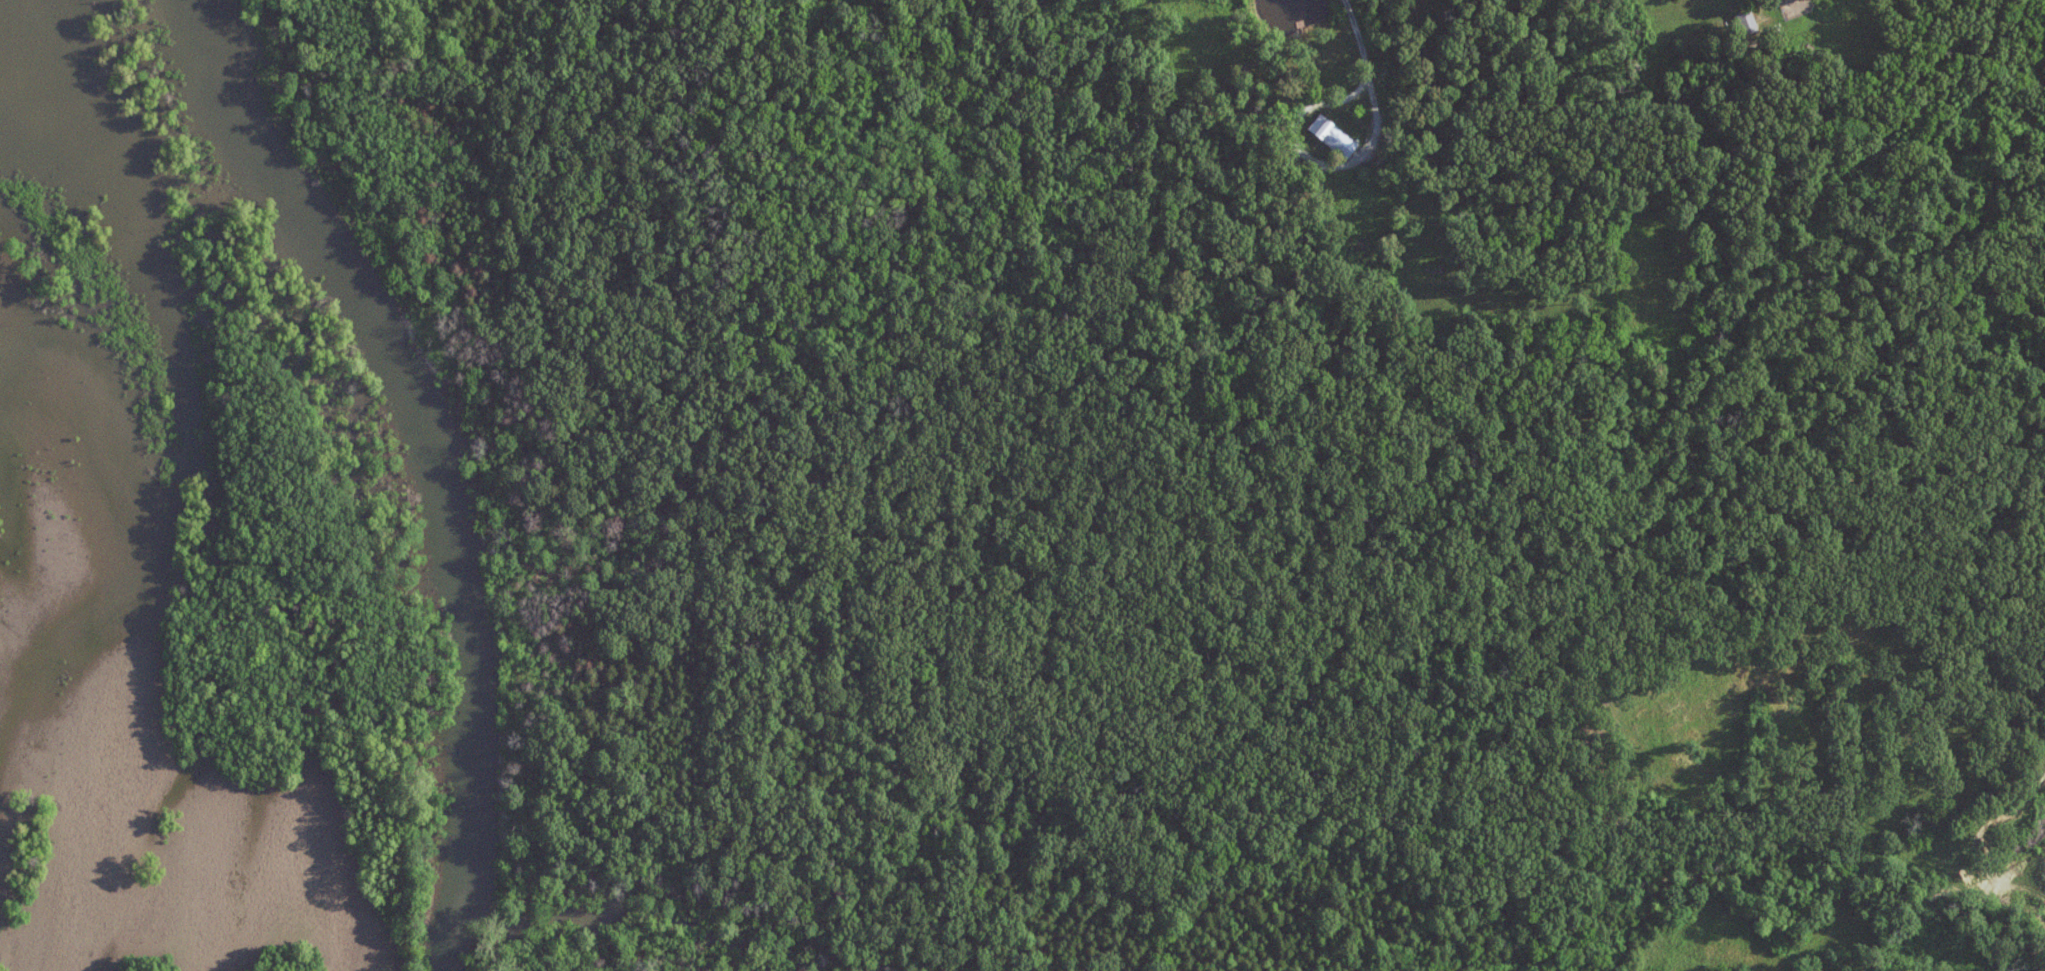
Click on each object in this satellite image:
road: (1374, 86)
building: (1340, 141)

